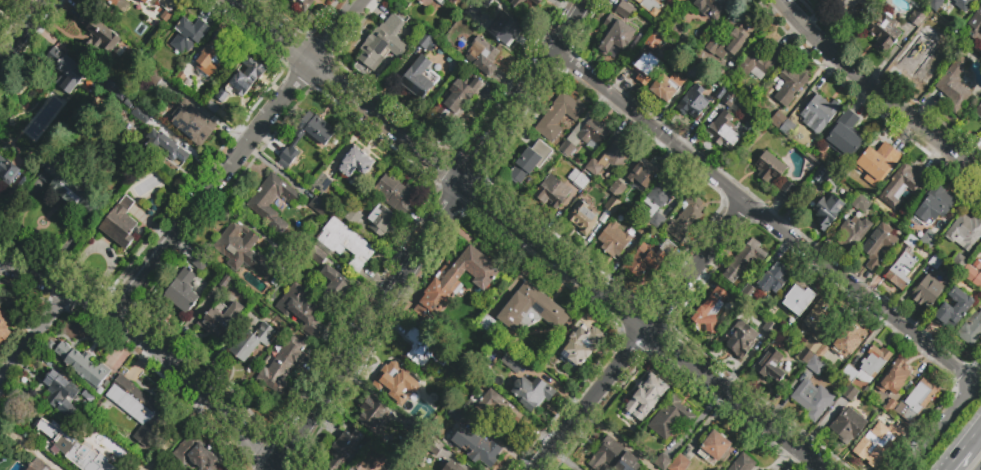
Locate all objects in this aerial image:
building: (460, 0)
building: (492, 0)
building: (144, 1)
building: (452, 1)
building: (680, 1)
building: (110, 2)
building: (426, 2)
building: (440, 2)
building: (485, 2)
building: (117, 3)
building: (168, 4)
building: (301, 4)
building: (529, 4)
building: (964, 4)
building: (650, 6)
building: (936, 6)
building: (516, 7)
building: (710, 8)
building: (849, 8)
building: (625, 9)
building: (917, 18)
building: (975, 25)
building: (505, 28)
building: (883, 32)
road: (26, 33)
building: (96, 34)
building: (188, 34)
building: (616, 36)
building: (654, 38)
building: (732, 38)
building: (428, 42)
building: (383, 45)
building: (216, 54)
building: (918, 56)
building: (482, 57)
building: (759, 65)
building: (645, 68)
building: (67, 72)
building: (693, 74)
building: (156, 77)
building: (420, 78)
building: (241, 79)
building: (955, 85)
building: (790, 86)
building: (666, 87)
building: (718, 91)
road: (875, 91)
building: (112, 92)
building: (462, 96)
building: (42, 97)
building: (694, 102)
building: (732, 102)
building: (214, 105)
building: (978, 111)
building: (819, 113)
building: (559, 115)
building: (142, 117)
building: (189, 120)
building: (778, 120)
building: (788, 128)
building: (724, 129)
building: (586, 136)
building: (844, 137)
building: (323, 142)
building: (167, 148)
road: (238, 156)
building: (610, 158)
building: (529, 161)
building: (356, 162)
building: (877, 163)
building: (770, 168)
building: (8, 171)
building: (644, 174)
building: (821, 174)
building: (579, 179)
building: (322, 183)
building: (69, 184)
building: (903, 184)
building: (619, 189)
building: (787, 190)
building: (552, 192)
building: (665, 193)
building: (396, 194)
building: (273, 202)
building: (612, 204)
building: (861, 204)
building: (934, 205)
building: (319, 207)
building: (827, 211)
building: (352, 217)
road: (764, 217)
building: (582, 218)
building: (685, 218)
building: (658, 220)
building: (382, 221)
building: (120, 224)
building: (643, 228)
building: (854, 232)
building: (964, 232)
road: (431, 234)
road: (527, 235)
building: (928, 238)
building: (614, 239)
building: (346, 244)
building: (878, 246)
building: (667, 247)
building: (244, 251)
building: (317, 255)
building: (644, 261)
building: (744, 261)
building: (200, 262)
building: (958, 262)
building: (904, 264)
building: (936, 264)
building: (973, 277)
building: (773, 279)
building: (225, 280)
building: (279, 281)
building: (455, 281)
building: (335, 283)
building: (183, 292)
building: (926, 292)
building: (798, 297)
building: (710, 307)
building: (300, 309)
building: (532, 310)
building: (953, 310)
building: (815, 315)
building: (219, 319)
building: (489, 325)
building: (3, 328)
building: (970, 328)
building: (771, 330)
road: (35, 334)
road: (641, 336)
road: (152, 341)
building: (740, 341)
building: (252, 342)
building: (850, 342)
building: (579, 344)
building: (812, 345)
building: (425, 351)
building: (823, 354)
building: (805, 357)
building: (512, 363)
building: (282, 365)
building: (771, 365)
building: (85, 366)
building: (816, 366)
building: (867, 366)
building: (894, 377)
building: (399, 384)
building: (529, 389)
building: (850, 393)
building: (60, 394)
building: (648, 397)
building: (812, 399)
building: (915, 401)
building: (890, 405)
building: (497, 407)
building: (134, 408)
building: (374, 416)
building: (458, 416)
building: (671, 418)
building: (423, 422)
road: (944, 423)
building: (848, 426)
building: (624, 427)
building: (411, 429)
road: (973, 437)
building: (879, 442)
building: (433, 446)
road: (28, 447)
building: (477, 447)
building: (714, 447)
building: (74, 448)
building: (345, 449)
building: (198, 456)
building: (612, 456)
road: (955, 459)
building: (367, 462)
building: (663, 462)
building: (679, 463)
building: (742, 463)
building: (39, 465)
building: (395, 465)
building: (452, 466)
building: (406, 468)
building: (348, 469)
building: (352, 469)

